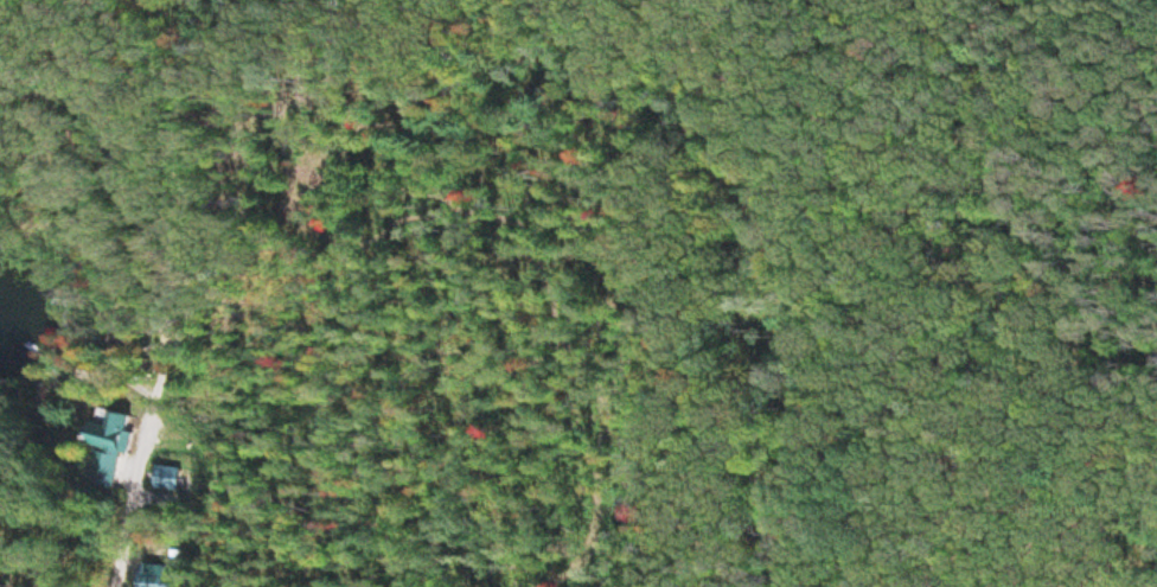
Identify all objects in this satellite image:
road: (184, 344)
building: (119, 451)
building: (178, 480)
building: (168, 578)

